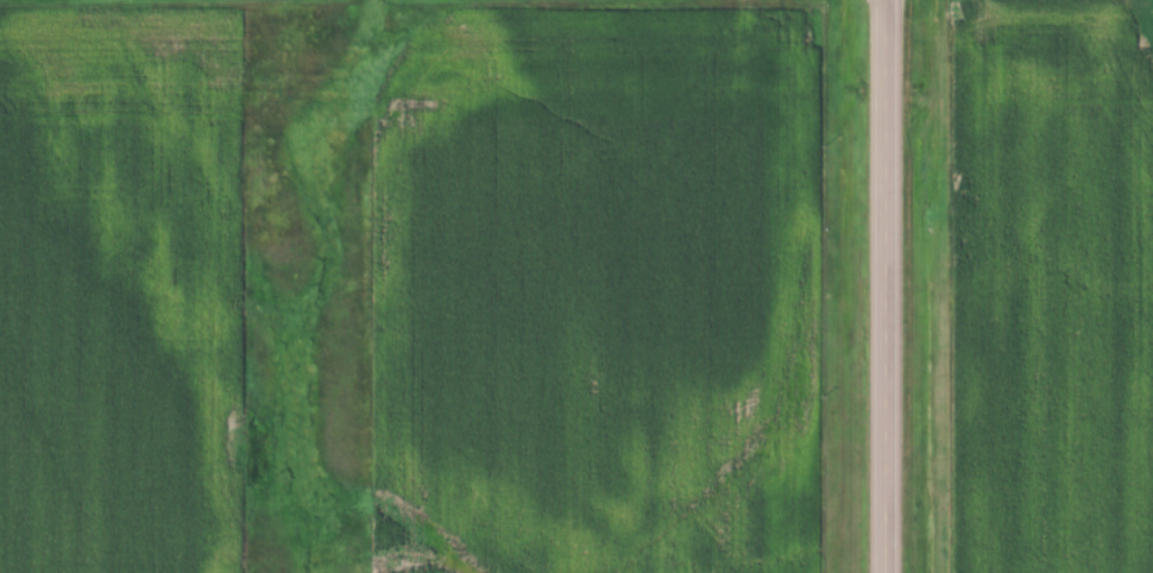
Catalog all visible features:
road: (887, 286)

